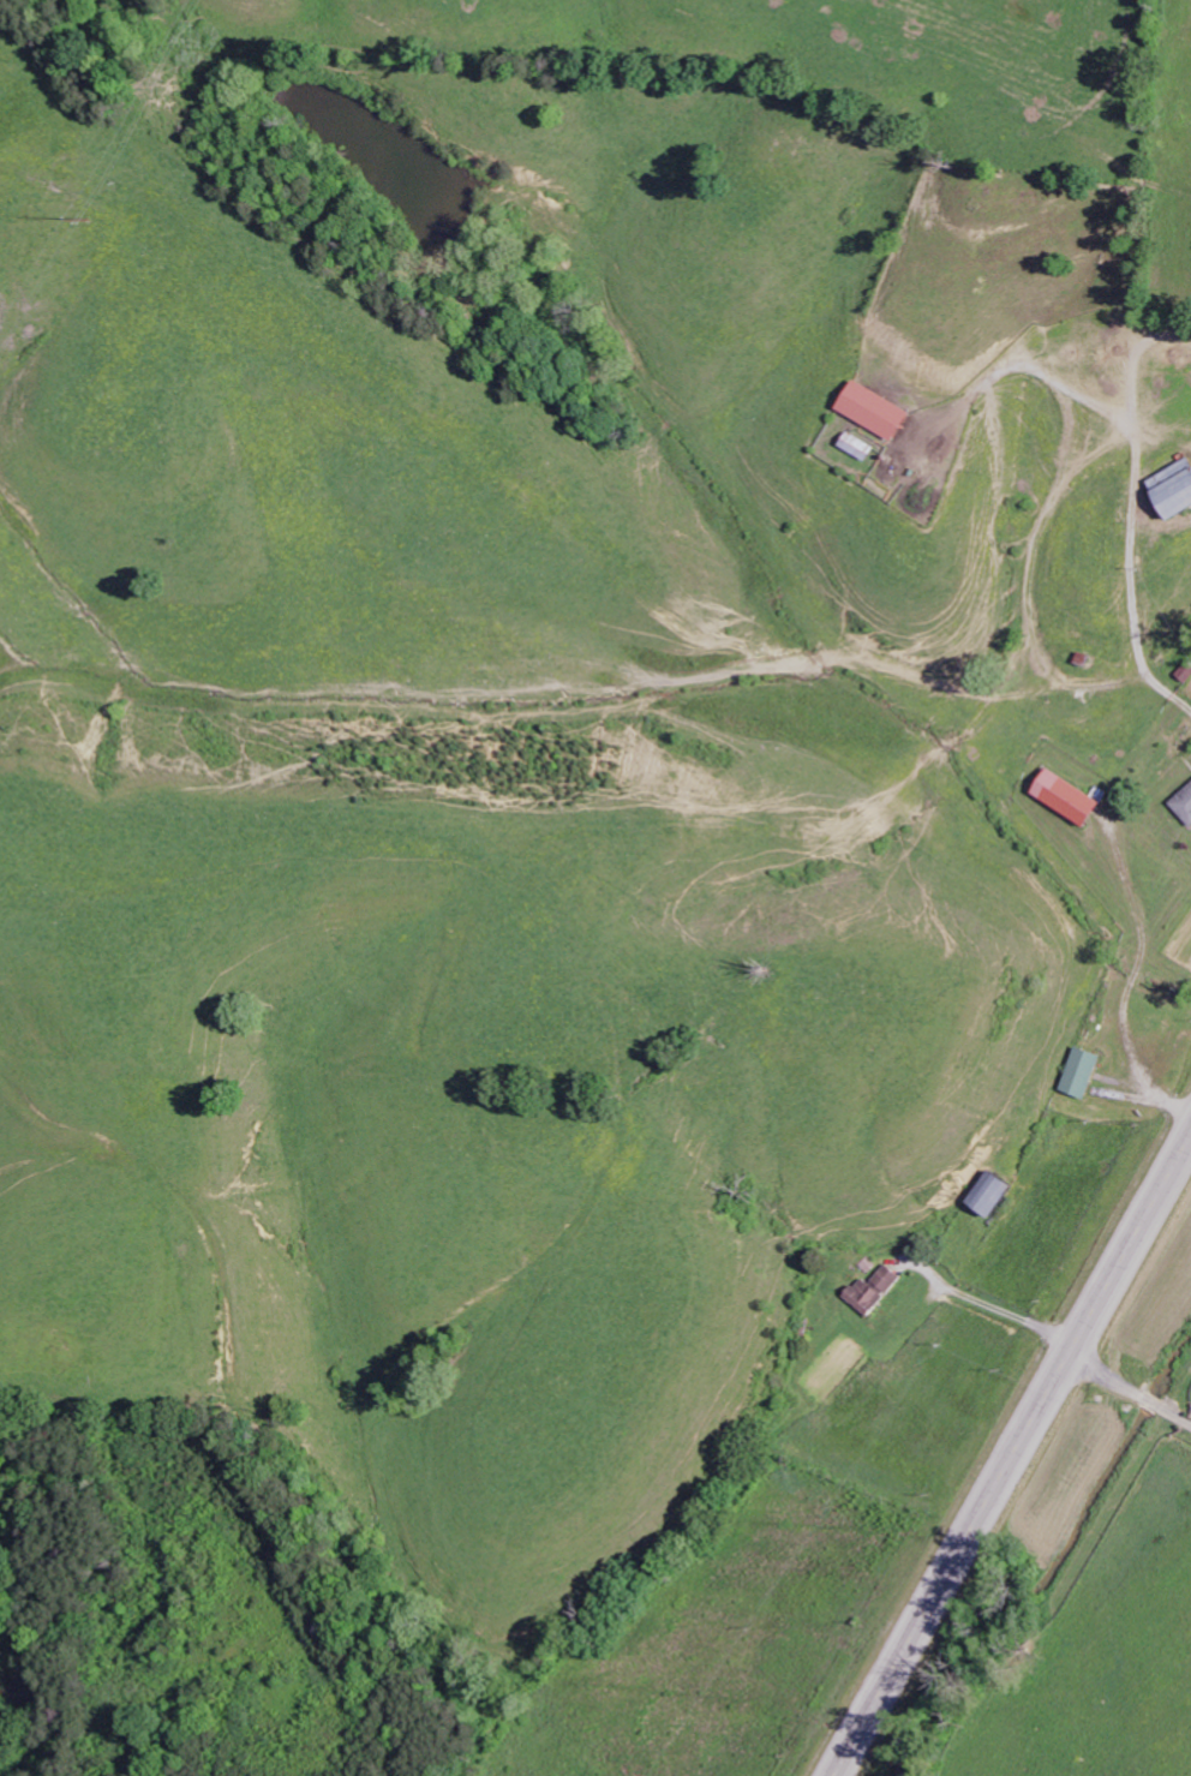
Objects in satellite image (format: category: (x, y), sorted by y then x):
building: (879, 411)
building: (862, 447)
building: (1175, 489)
building: (1186, 672)
building: (1071, 797)
building: (1185, 803)
building: (1081, 1071)
building: (992, 1191)
building: (874, 1290)
road: (1010, 1453)

